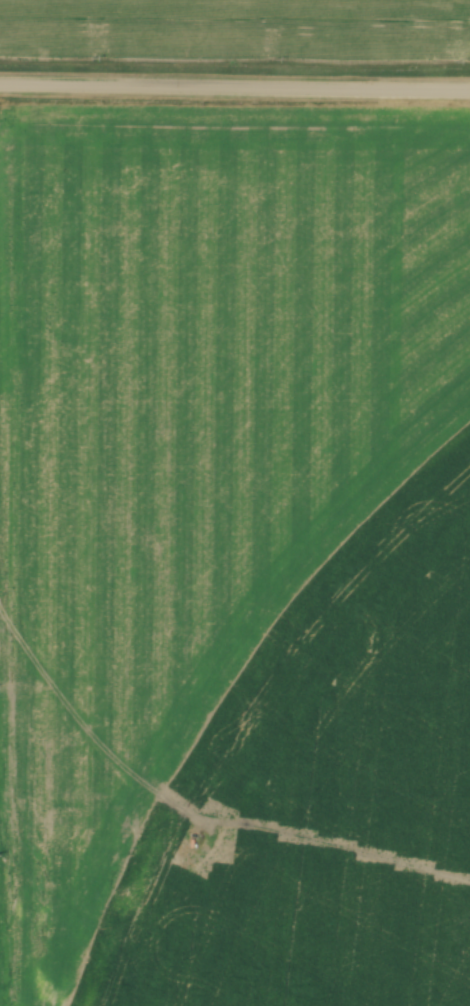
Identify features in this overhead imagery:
crop: (240, 27)
road: (235, 89)
crop: (190, 443)
crop: (326, 789)

